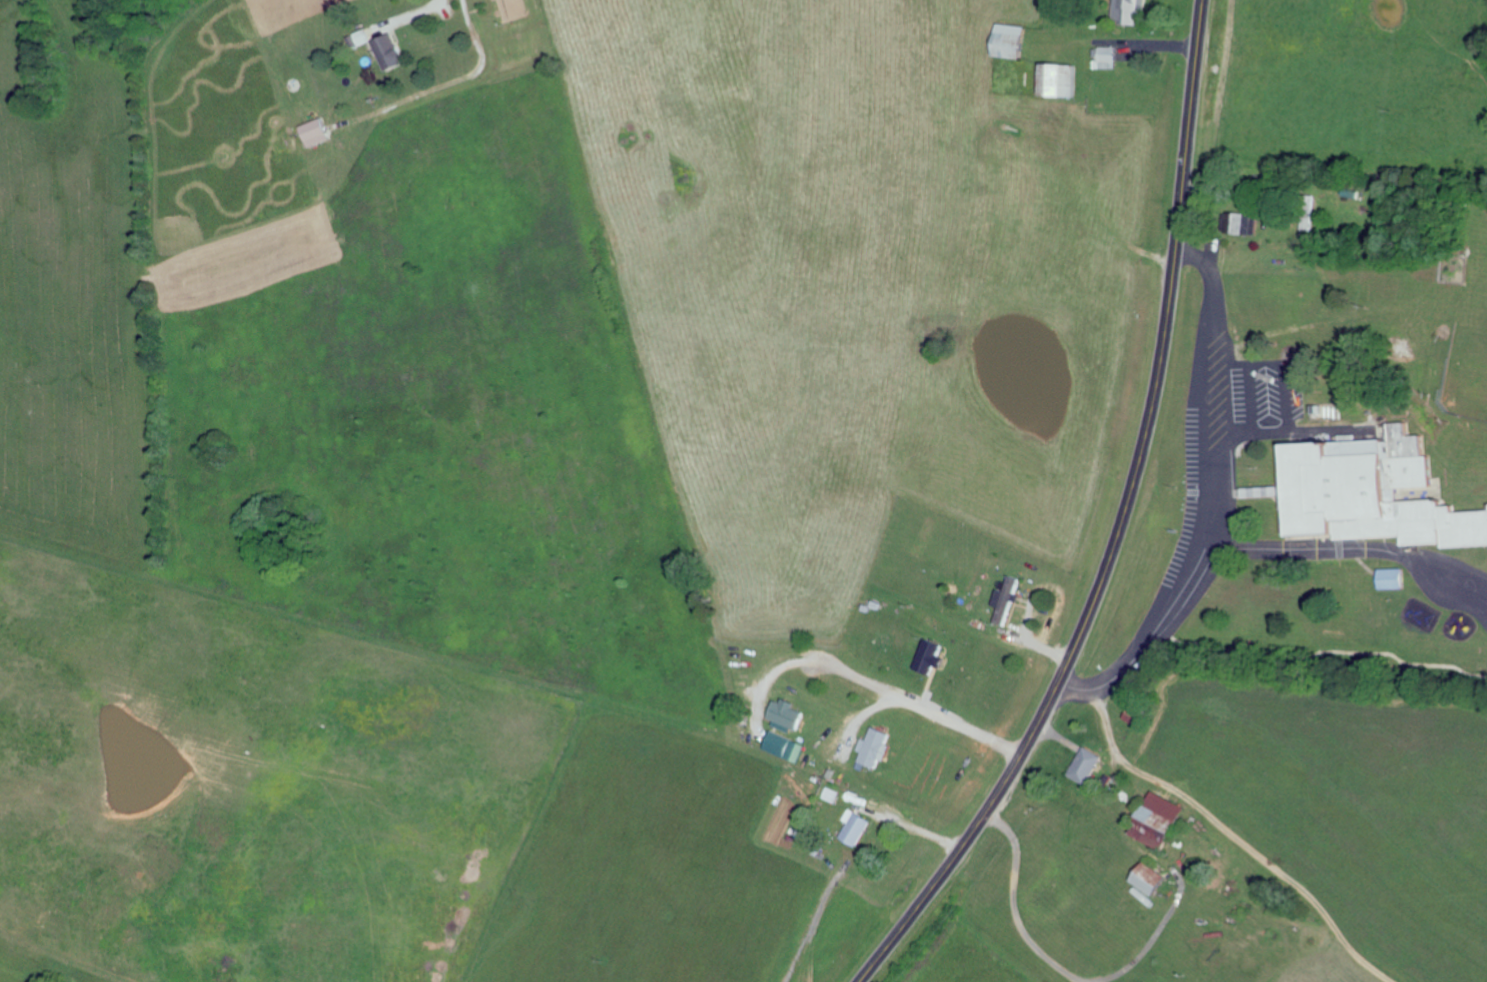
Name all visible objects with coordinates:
building: (1133, 10)
road: (418, 13)
building: (369, 35)
building: (1016, 39)
building: (394, 51)
building: (1109, 56)
building: (1066, 78)
building: (319, 131)
building: (1247, 222)
road: (1226, 505)
road: (1119, 523)
building: (1395, 577)
building: (1007, 600)
building: (932, 656)
building: (788, 714)
building: (1141, 717)
building: (785, 744)
building: (877, 748)
building: (1090, 764)
building: (833, 794)
building: (1167, 821)
road: (914, 824)
building: (859, 826)
building: (1158, 879)

